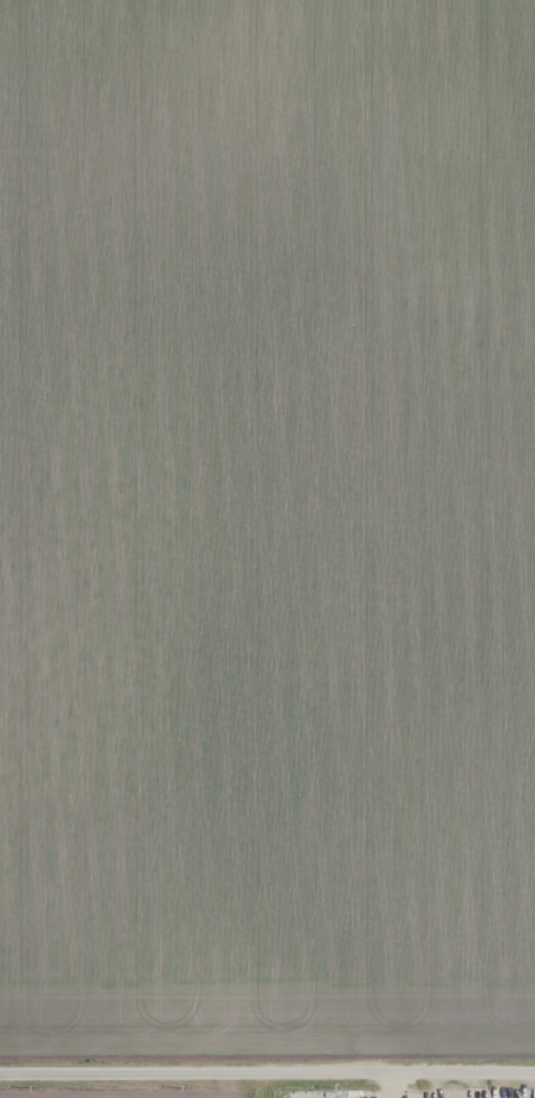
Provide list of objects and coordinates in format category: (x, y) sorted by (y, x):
road: (267, 1076)

